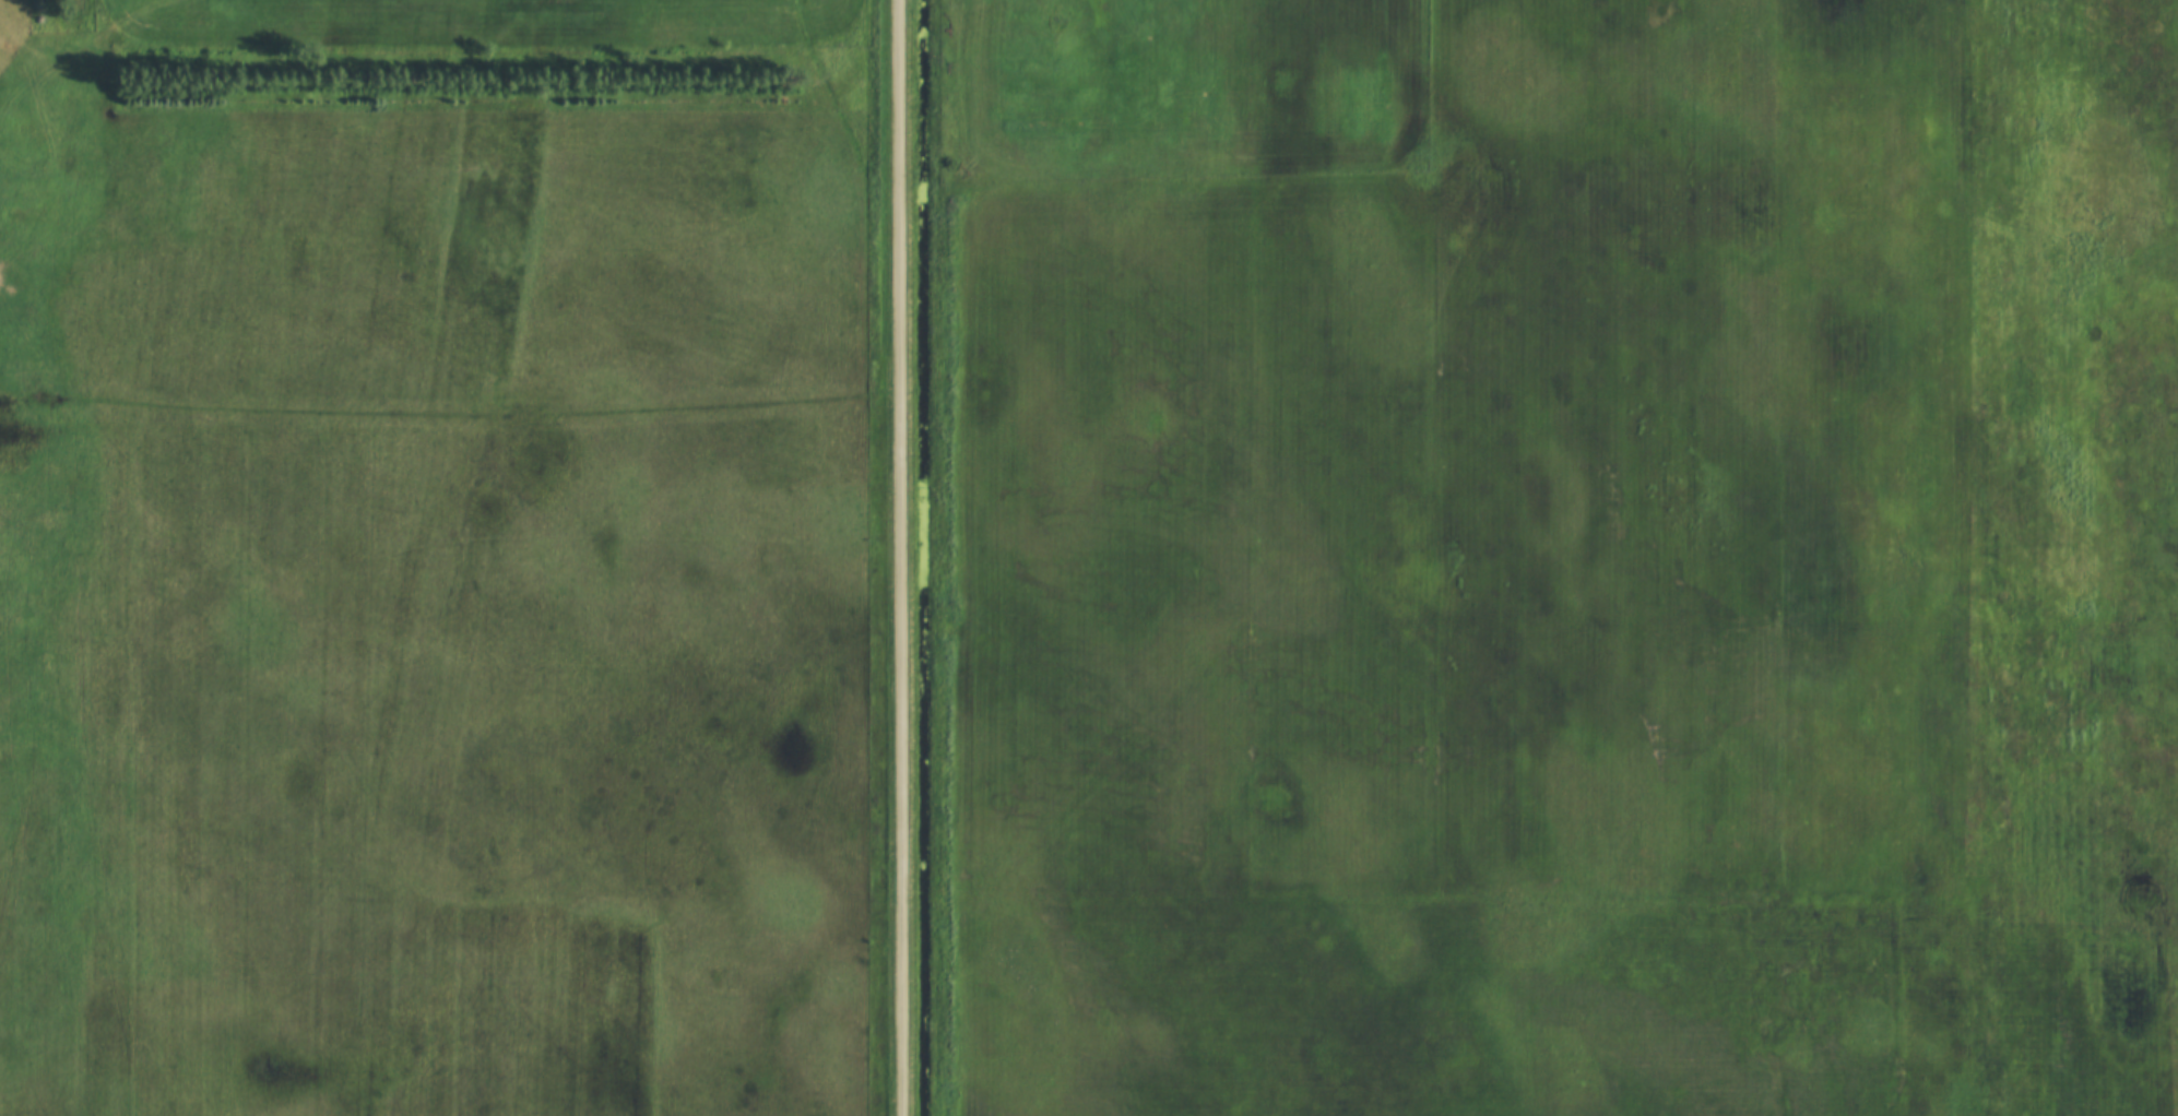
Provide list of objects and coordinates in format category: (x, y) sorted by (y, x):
road: (99, 46)
road: (1126, 52)
road: (900, 557)

